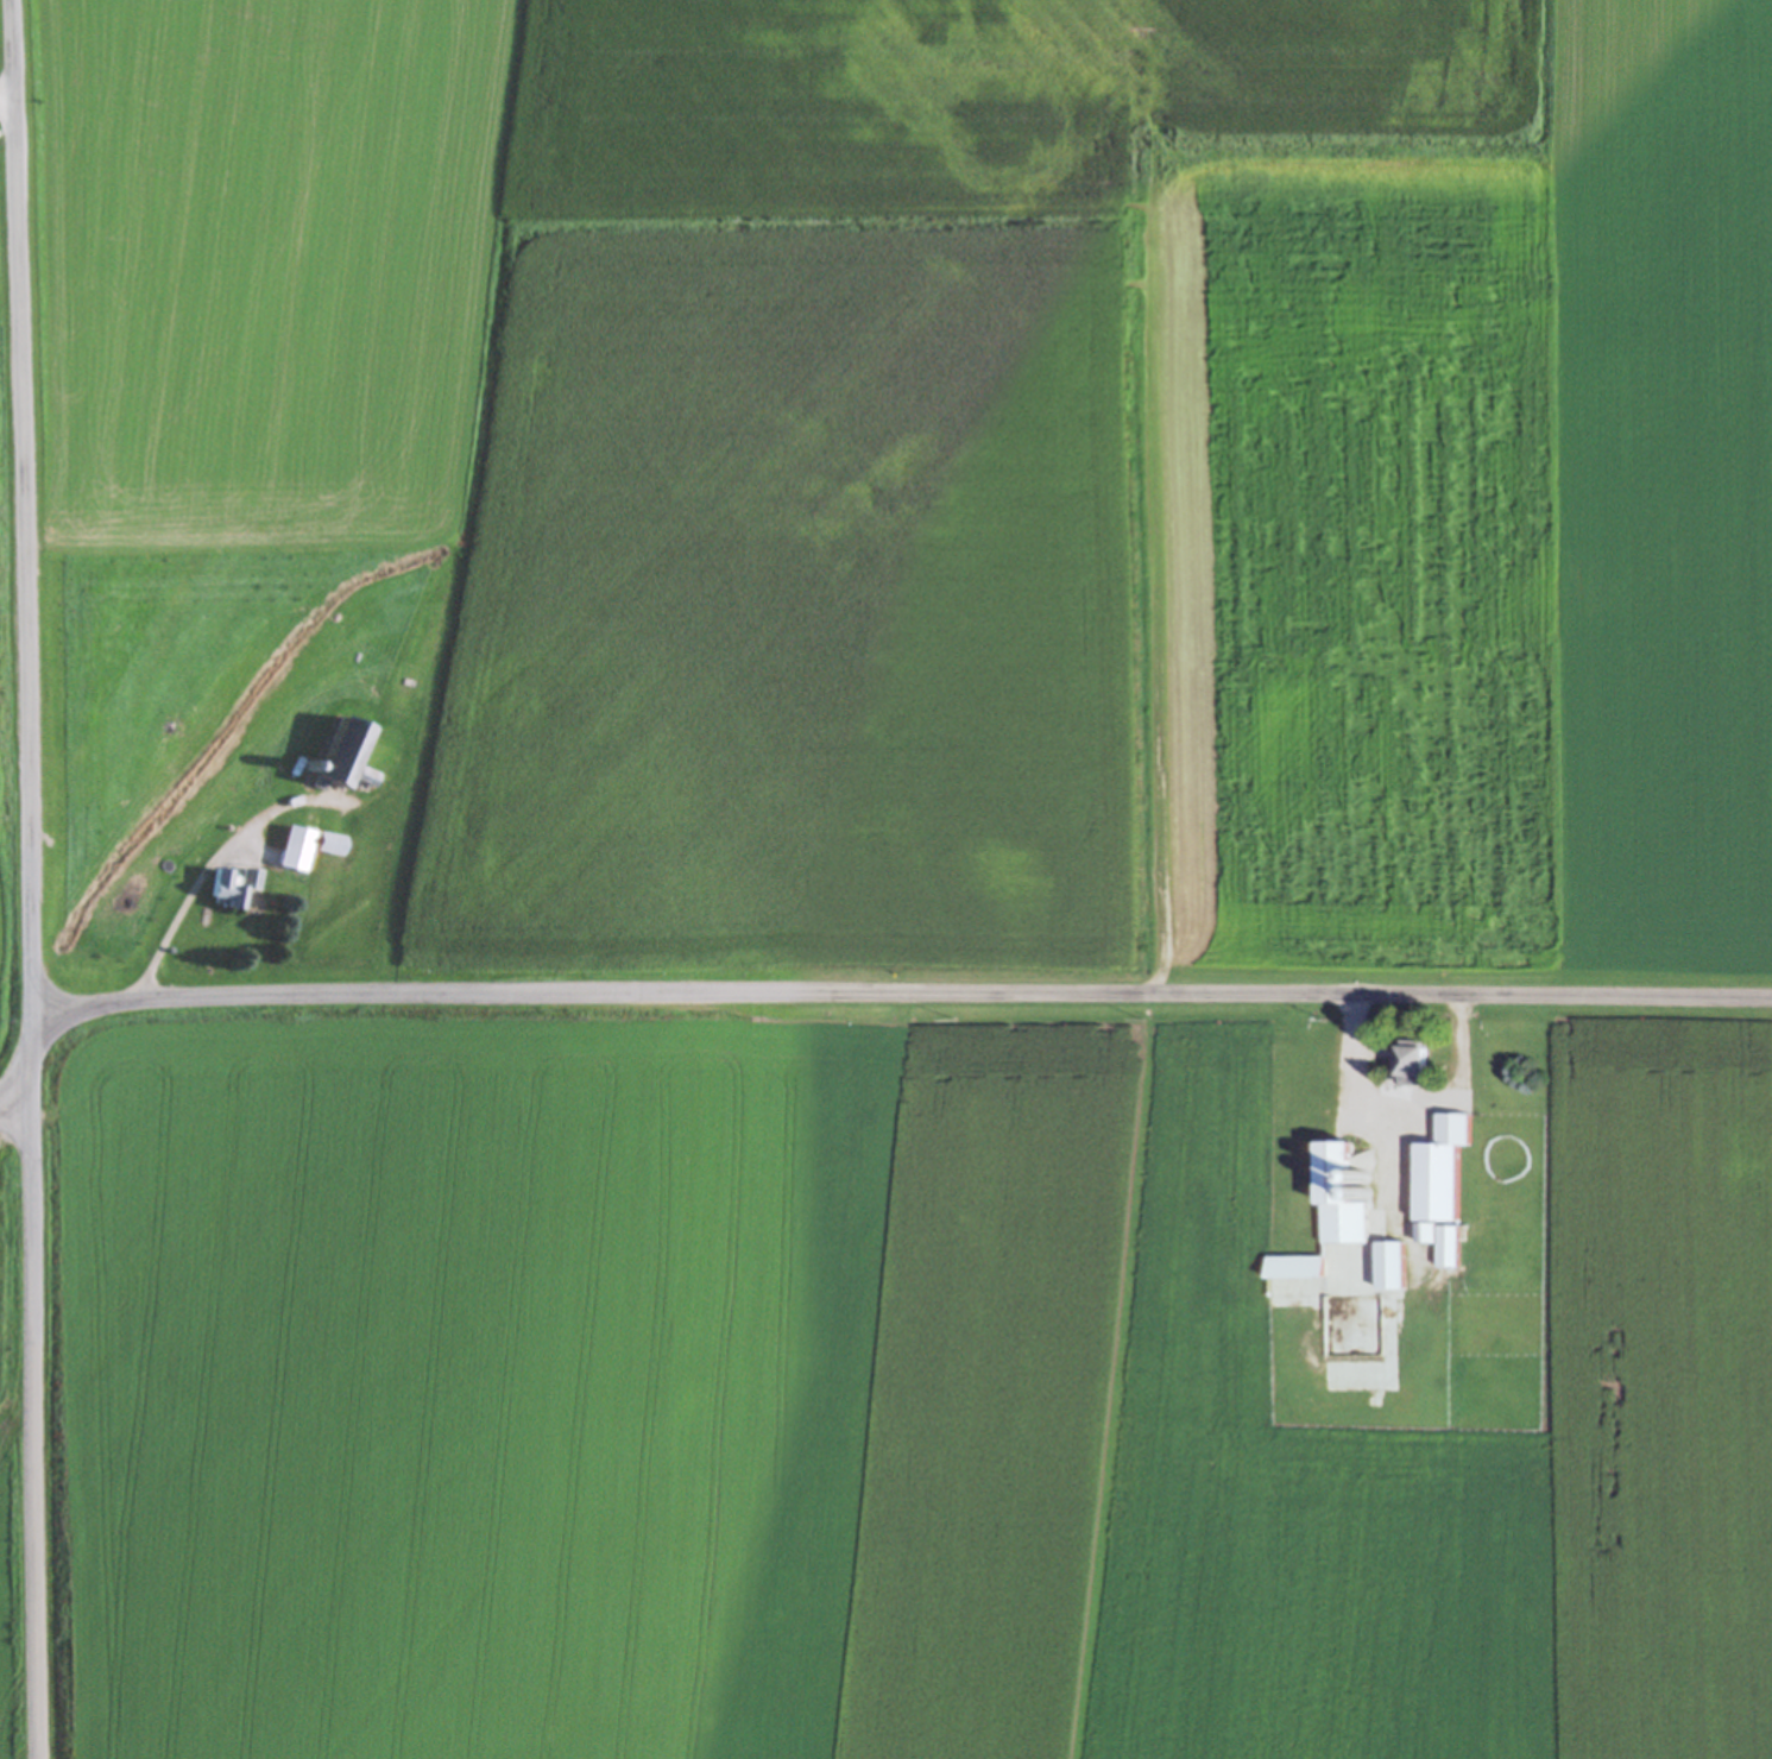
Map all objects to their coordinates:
road: (7, 92)
building: (351, 756)
building: (334, 844)
building: (299, 849)
road: (27, 879)
building: (237, 888)
road: (102, 992)
road: (859, 998)
building: (1417, 1065)
building: (1444, 1189)
building: (1344, 1196)
road: (17, 1212)
building: (1392, 1267)
building: (1297, 1268)

